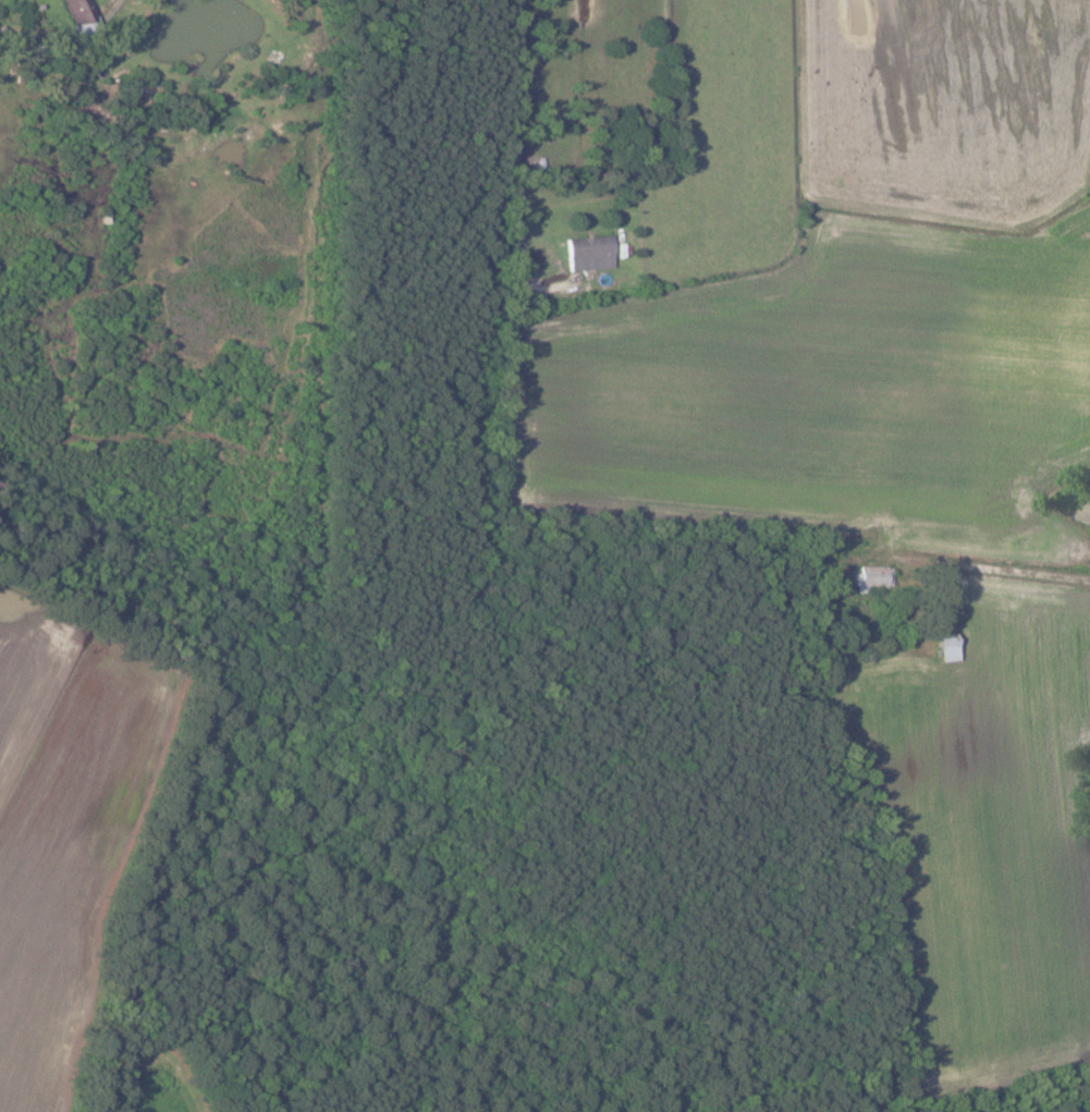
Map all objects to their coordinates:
building: (82, 11)
road: (68, 35)
road: (511, 133)
building: (591, 253)
road: (966, 571)
building: (873, 577)
building: (950, 647)

